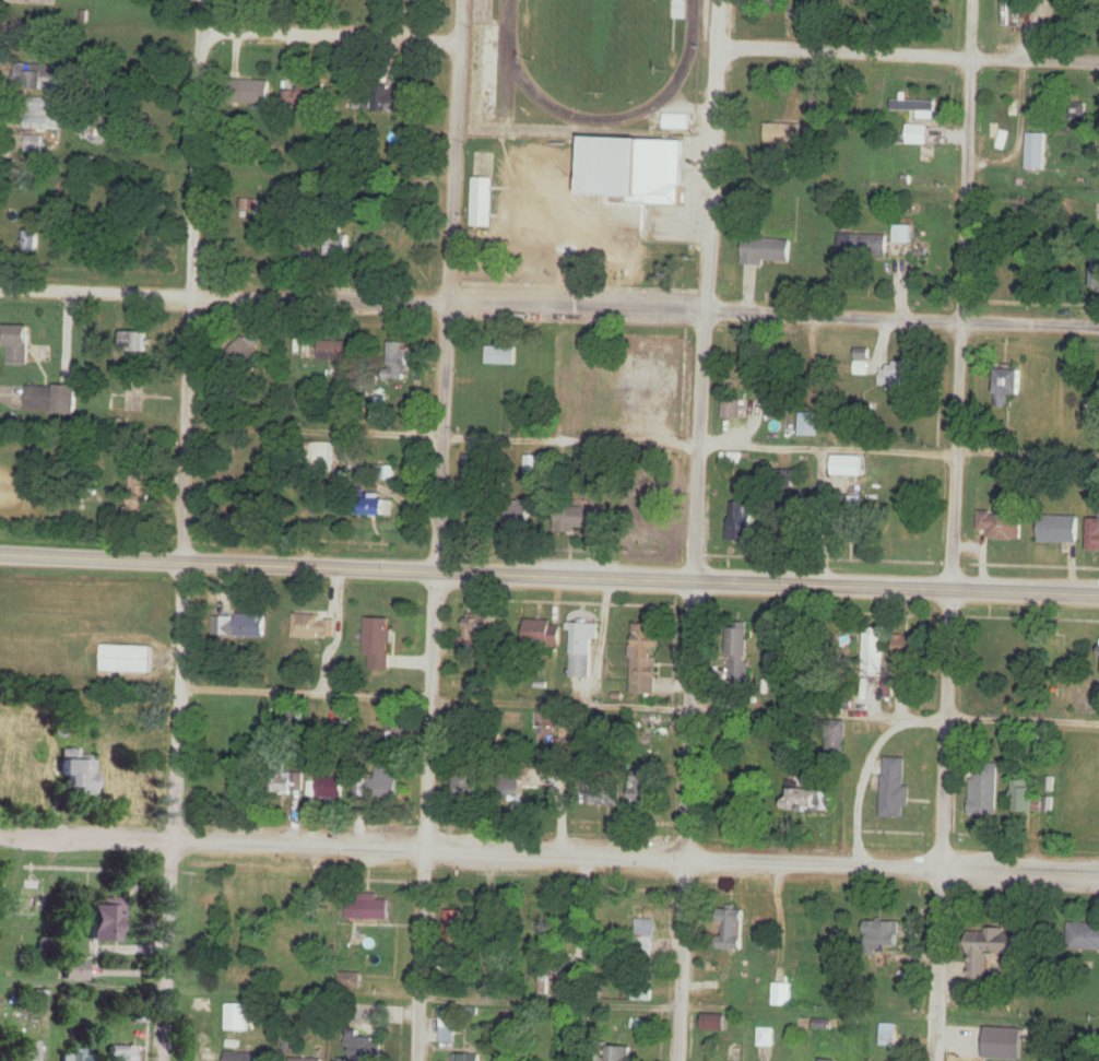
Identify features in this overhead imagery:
building: (39, 1)
building: (764, 3)
road: (329, 32)
road: (908, 54)
building: (487, 69)
building: (39, 78)
building: (251, 91)
building: (306, 95)
building: (389, 101)
building: (1075, 111)
building: (40, 116)
building: (1003, 121)
building: (677, 123)
building: (917, 134)
building: (32, 144)
building: (1035, 151)
building: (604, 190)
building: (483, 202)
building: (245, 204)
building: (20, 241)
building: (339, 246)
building: (862, 246)
building: (765, 251)
building: (1097, 281)
road: (959, 293)
road: (223, 295)
road: (578, 307)
road: (902, 318)
building: (135, 342)
building: (17, 345)
building: (333, 352)
building: (503, 354)
building: (246, 356)
building: (397, 362)
building: (902, 374)
building: (1007, 384)
building: (772, 394)
building: (50, 399)
building: (732, 409)
building: (812, 425)
building: (322, 456)
building: (732, 460)
building: (532, 464)
building: (849, 465)
building: (471, 471)
building: (385, 473)
building: (854, 502)
building: (379, 507)
building: (642, 508)
building: (519, 512)
building: (578, 519)
building: (740, 521)
building: (998, 527)
road: (184, 530)
road: (439, 530)
road: (698, 530)
building: (1059, 530)
building: (1092, 534)
road: (348, 565)
road: (897, 586)
building: (241, 626)
building: (314, 627)
building: (480, 628)
building: (541, 633)
building: (583, 634)
building: (378, 644)
building: (873, 648)
building: (907, 649)
building: (738, 650)
building: (1018, 653)
building: (990, 658)
building: (125, 659)
building: (643, 660)
building: (581, 669)
building: (652, 721)
building: (394, 732)
building: (75, 773)
building: (286, 783)
building: (465, 787)
building: (645, 787)
building: (329, 788)
building: (513, 788)
building: (385, 789)
building: (984, 789)
building: (602, 792)
building: (894, 794)
building: (1025, 794)
building: (808, 800)
road: (942, 824)
road: (549, 857)
building: (27, 898)
building: (369, 910)
building: (540, 912)
building: (103, 921)
building: (643, 922)
building: (453, 928)
building: (731, 930)
building: (882, 934)
building: (1083, 936)
building: (991, 948)
building: (73, 970)
building: (350, 983)
building: (781, 994)
building: (237, 1017)
building: (713, 1023)
building: (447, 1025)
building: (765, 1037)
building: (1005, 1045)
building: (367, 1049)
building: (25, 1051)
building: (120, 1053)
building: (619, 1054)
building: (75, 1056)
building: (204, 1057)
building: (245, 1057)
building: (465, 1058)
building: (306, 1060)
building: (825, 1060)

